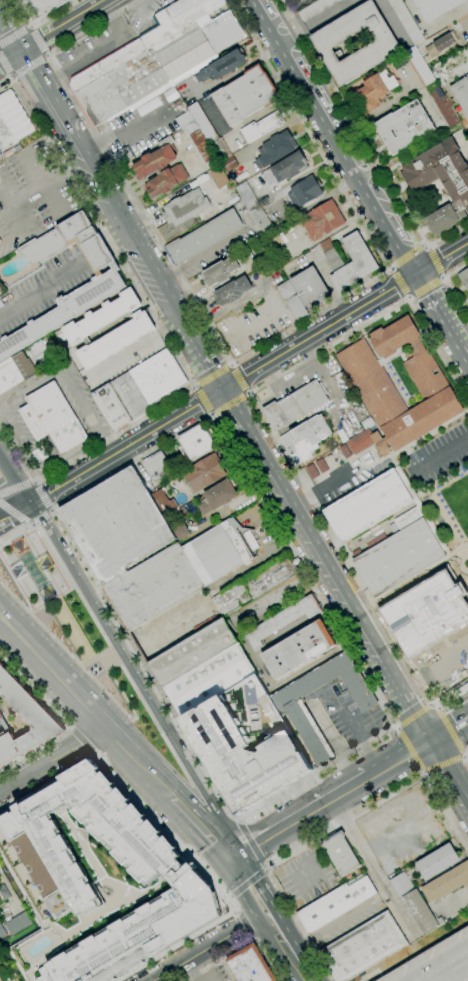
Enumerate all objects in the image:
building: (467, 1)
building: (41, 7)
building: (435, 7)
building: (315, 9)
road: (39, 20)
building: (406, 21)
road: (59, 24)
road: (30, 26)
traffic signals: (9, 29)
traffic signals: (49, 31)
road: (14, 35)
parking lot: (111, 37)
road: (14, 39)
road: (37, 40)
building: (383, 44)
building: (440, 45)
road: (9, 54)
road: (47, 55)
building: (156, 59)
building: (397, 62)
road: (27, 65)
building: (222, 66)
building: (419, 66)
road: (4, 67)
road: (9, 77)
building: (375, 90)
building: (461, 94)
building: (246, 95)
building: (444, 107)
building: (14, 116)
building: (202, 123)
road: (352, 123)
road: (342, 124)
building: (261, 127)
building: (404, 127)
road: (121, 130)
building: (5, 137)
road: (331, 137)
building: (276, 148)
building: (219, 149)
building: (122, 156)
building: (155, 159)
building: (228, 164)
building: (289, 167)
building: (440, 171)
building: (158, 173)
building: (218, 177)
street lamp: (17, 178)
building: (165, 181)
building: (304, 192)
parking lot: (32, 194)
building: (246, 195)
building: (0, 209)
building: (182, 214)
building: (441, 218)
building: (322, 220)
building: (262, 222)
road: (448, 233)
building: (202, 237)
road: (119, 243)
road: (422, 245)
road: (428, 247)
road: (99, 255)
building: (331, 255)
road: (201, 257)
road: (405, 257)
road: (440, 259)
traffic signals: (442, 259)
road: (415, 262)
building: (354, 263)
road: (434, 263)
road: (388, 267)
building: (220, 273)
road: (443, 277)
building: (464, 278)
building: (107, 282)
road: (398, 282)
road: (449, 286)
road: (44, 287)
road: (423, 287)
building: (310, 288)
traffic signals: (392, 288)
building: (286, 289)
building: (232, 291)
building: (0, 292)
road: (423, 292)
traffic signals: (425, 295)
road: (406, 298)
parking lot: (16, 305)
building: (296, 308)
building: (128, 333)
road: (161, 335)
building: (393, 336)
road: (450, 338)
building: (393, 355)
road: (245, 356)
road: (231, 364)
road: (208, 370)
building: (423, 370)
building: (14, 371)
road: (297, 373)
building: (158, 377)
road: (213, 377)
road: (239, 379)
building: (371, 383)
road: (264, 384)
road: (193, 386)
road: (220, 390)
traffic signals: (221, 390)
road: (248, 393)
building: (130, 396)
road: (203, 400)
road: (228, 402)
building: (296, 405)
building: (111, 407)
road: (210, 414)
building: (52, 418)
building: (422, 419)
building: (368, 424)
building: (306, 438)
building: (361, 442)
building: (196, 443)
road: (449, 445)
building: (382, 447)
parking lot: (440, 455)
building: (157, 466)
road: (242, 469)
building: (204, 473)
parking lot: (342, 474)
road: (34, 480)
road: (11, 485)
road: (16, 485)
road: (42, 495)
building: (218, 496)
park: (452, 500)
building: (164, 502)
building: (367, 506)
road: (13, 508)
building: (420, 508)
road: (15, 512)
road: (40, 517)
building: (116, 524)
building: (179, 529)
road: (15, 531)
road: (260, 533)
building: (251, 540)
building: (217, 552)
building: (399, 554)
road: (452, 561)
road: (449, 564)
road: (456, 564)
road: (71, 582)
building: (256, 585)
road: (466, 586)
building: (152, 587)
building: (427, 614)
building: (282, 620)
park: (70, 623)
road: (110, 645)
road: (139, 645)
road: (63, 649)
building: (298, 649)
building: (192, 652)
road: (402, 652)
road: (252, 660)
road: (123, 662)
parking lot: (445, 663)
road: (81, 666)
road: (433, 671)
building: (209, 680)
road: (35, 694)
road: (120, 694)
road: (438, 702)
road: (85, 705)
road: (431, 705)
building: (290, 706)
road: (408, 706)
road: (435, 706)
building: (34, 714)
road: (413, 715)
road: (155, 723)
road: (178, 723)
road: (393, 725)
road: (447, 725)
road: (396, 727)
road: (450, 728)
road: (396, 730)
road: (358, 737)
traffic signals: (427, 738)
road: (82, 741)
building: (247, 743)
road: (35, 750)
road: (409, 750)
road: (464, 751)
road: (467, 752)
road: (398, 754)
road: (466, 756)
road: (464, 757)
road: (53, 759)
road: (442, 763)
road: (445, 769)
road: (423, 771)
road: (420, 773)
road: (205, 775)
road: (196, 779)
road: (48, 783)
road: (319, 802)
road: (466, 804)
road: (195, 810)
road: (237, 820)
building: (378, 821)
road: (201, 826)
road: (457, 828)
road: (242, 832)
road: (224, 841)
road: (250, 842)
road: (249, 844)
building: (339, 853)
traffic signals: (231, 857)
building: (437, 862)
road: (264, 864)
road: (266, 864)
road: (372, 864)
road: (265, 870)
road: (255, 874)
road: (211, 878)
parking lot: (305, 878)
building: (98, 881)
road: (249, 881)
building: (446, 883)
road: (242, 895)
road: (232, 896)
building: (335, 903)
building: (414, 903)
road: (237, 910)
road: (270, 911)
road: (338, 921)
building: (17, 923)
road: (246, 926)
building: (2, 932)
road: (255, 940)
road: (210, 947)
building: (362, 947)
road: (239, 948)
road: (287, 951)
building: (249, 965)
parking lot: (210, 973)
road: (458, 975)
building: (0, 980)

